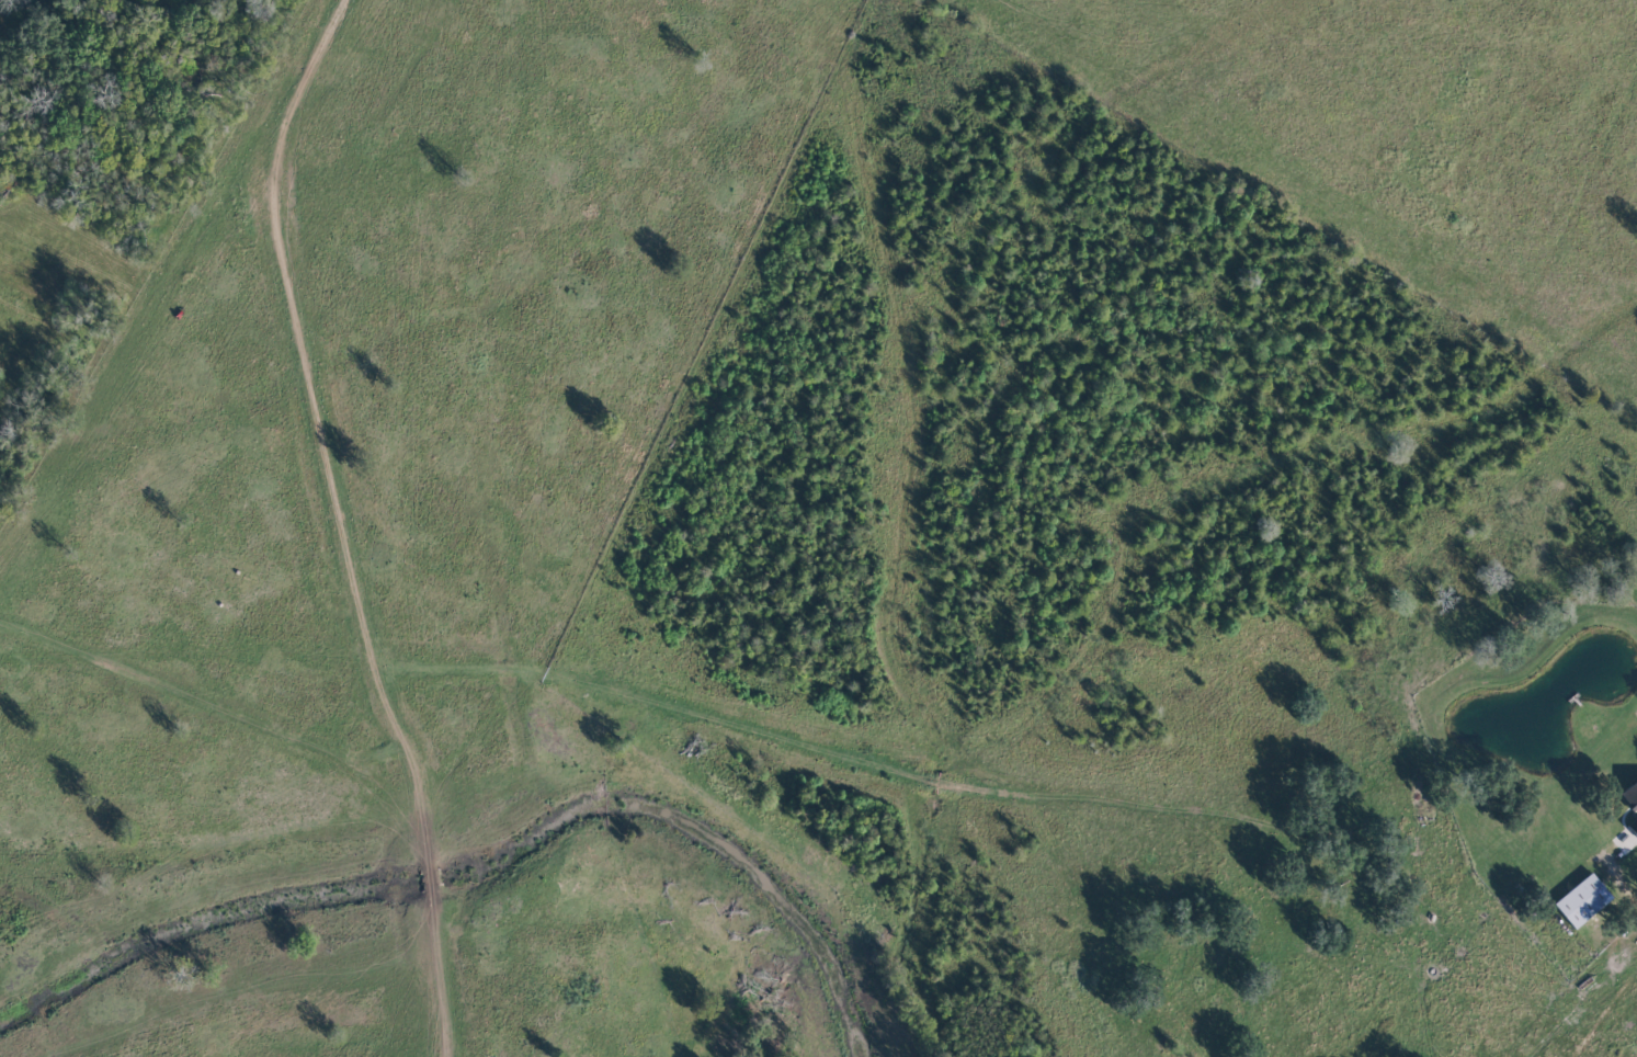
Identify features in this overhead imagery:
building: (1629, 829)
building: (1579, 902)

